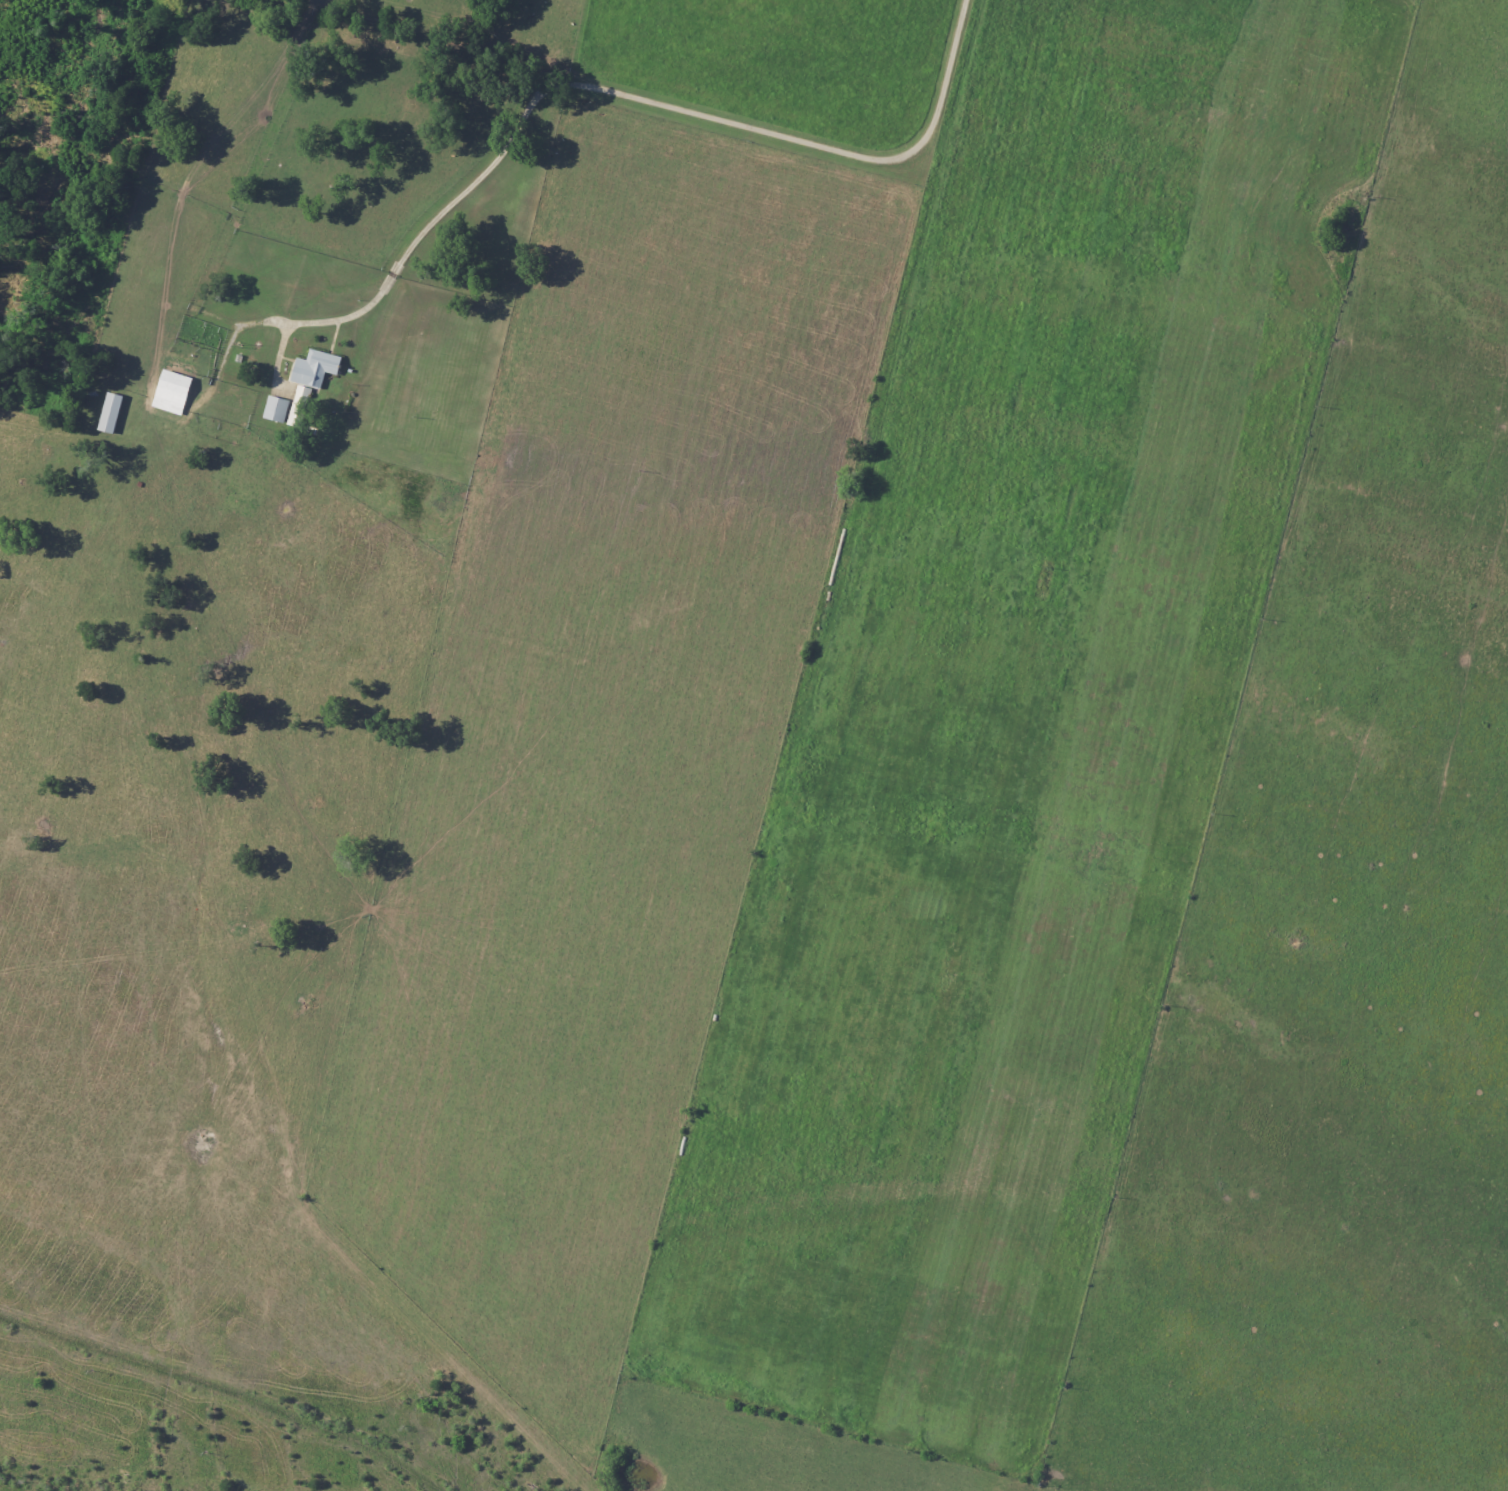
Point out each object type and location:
road: (621, 107)
building: (171, 390)
building: (276, 409)
building: (109, 412)

